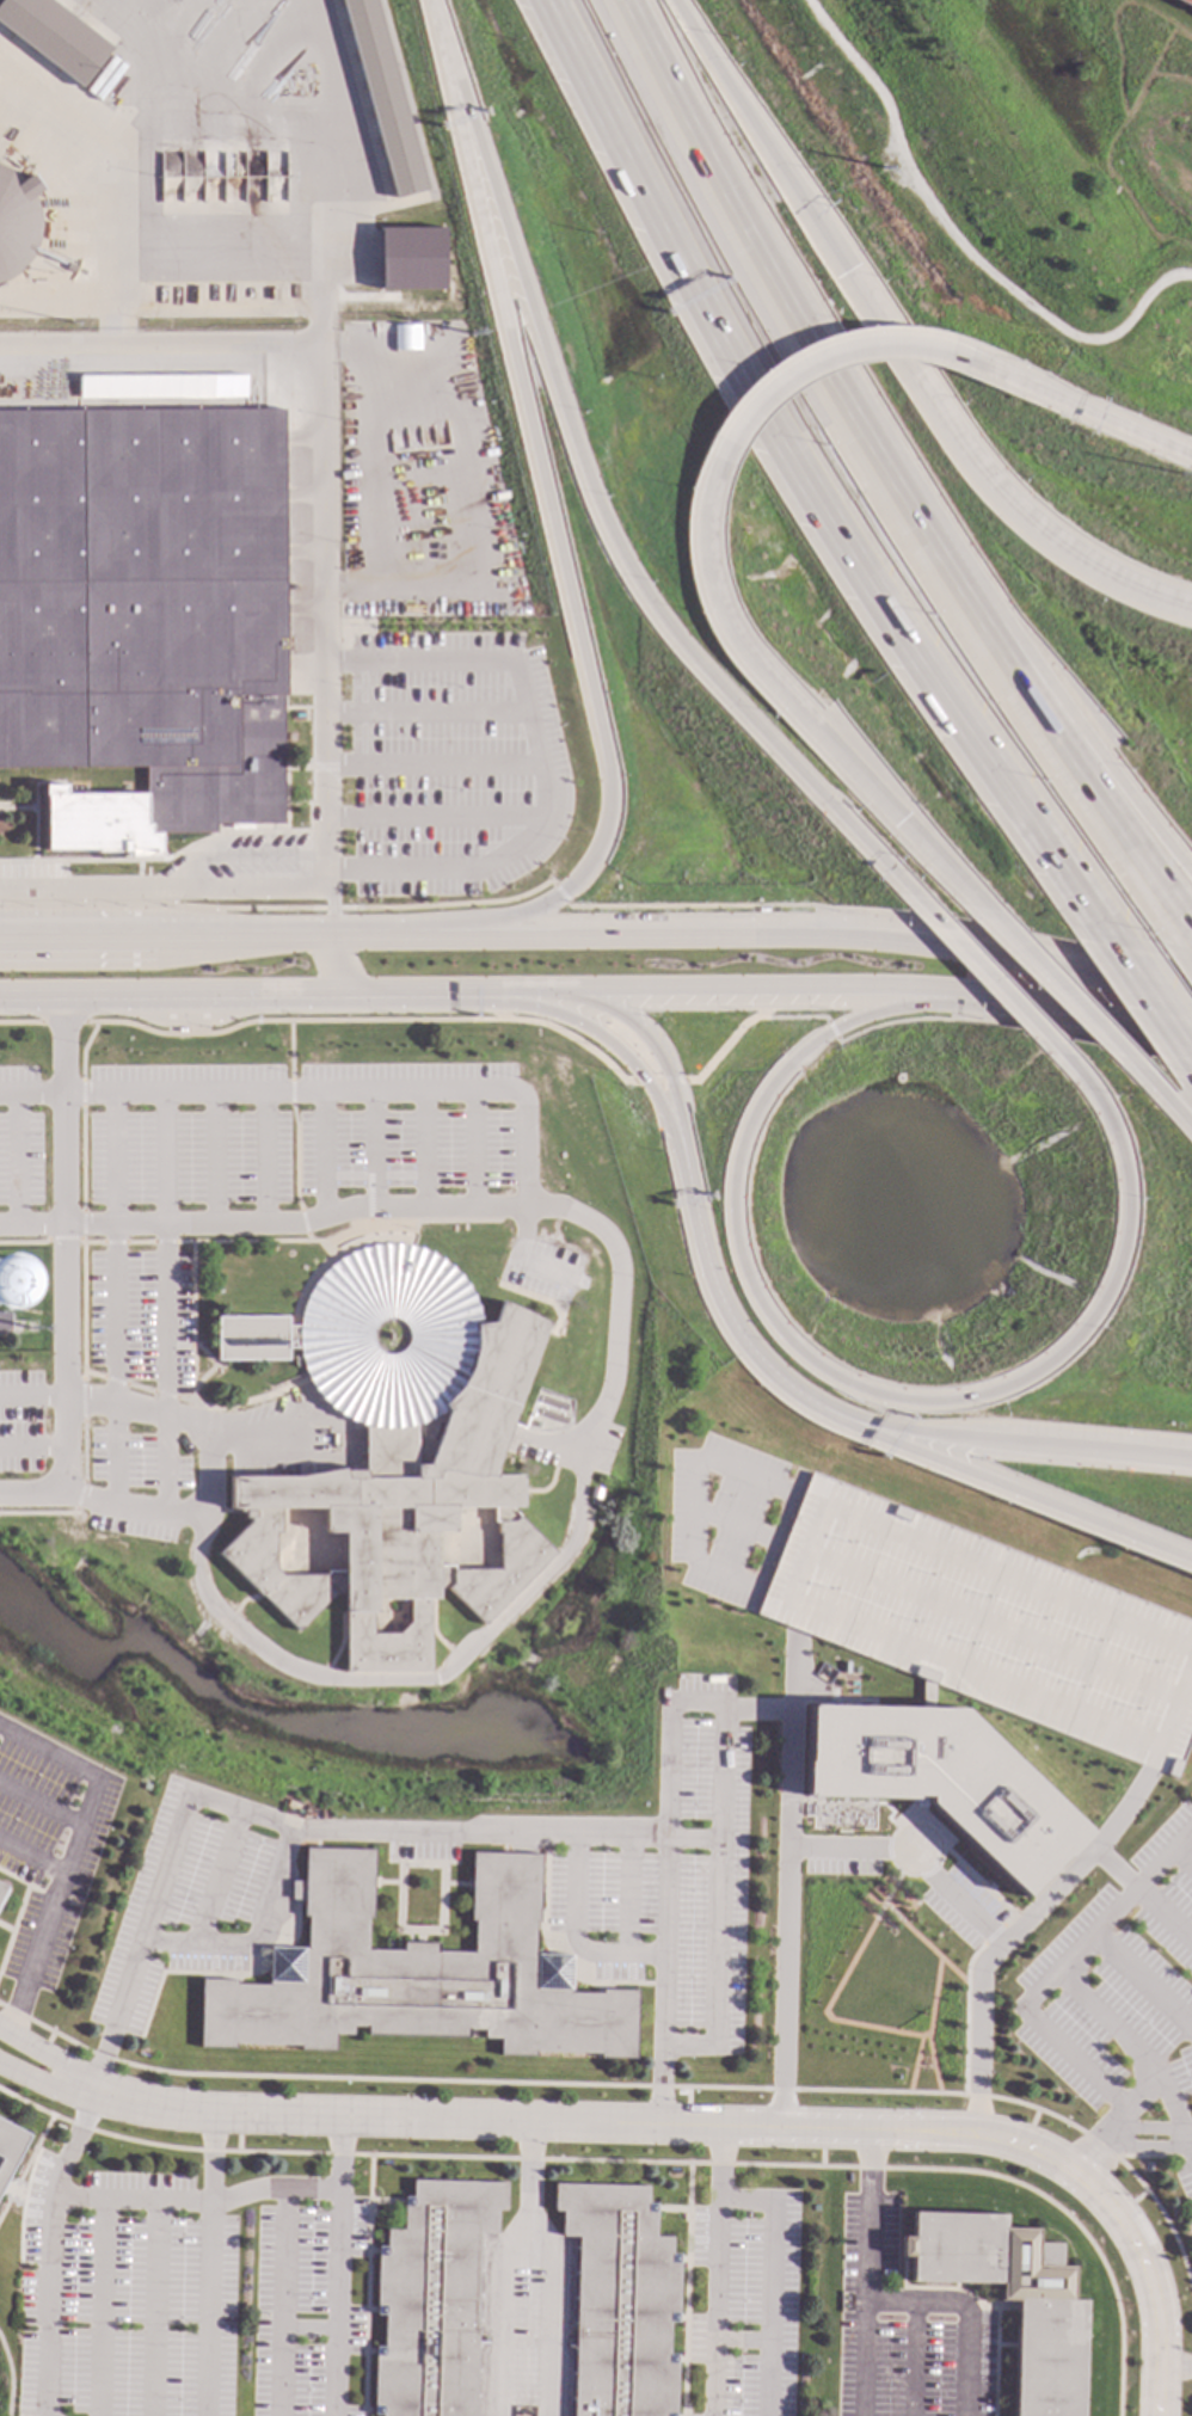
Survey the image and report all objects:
building: (1182, 4)
road: (431, 11)
building: (50, 38)
building: (379, 97)
road: (1124, 121)
power tower: (880, 168)
road: (1022, 187)
road: (1114, 191)
building: (14, 223)
silo: (14, 223)
road: (318, 227)
road: (959, 244)
building: (406, 258)
power tower: (70, 324)
power tower: (472, 334)
building: (405, 338)
road: (899, 340)
road: (160, 344)
road: (792, 345)
road: (818, 357)
road: (1069, 404)
power tower: (1174, 479)
road: (797, 487)
road: (597, 512)
road: (549, 530)
building: (145, 605)
road: (325, 605)
road: (789, 708)
road: (539, 760)
road: (1106, 781)
road: (1106, 813)
road: (330, 881)
road: (165, 890)
road: (559, 893)
road: (279, 909)
road: (880, 912)
road: (331, 914)
road: (382, 935)
road: (288, 936)
road: (123, 937)
road: (686, 937)
road: (1016, 958)
road: (337, 964)
road: (990, 979)
road: (1143, 983)
road: (764, 986)
road: (504, 991)
road: (296, 992)
road: (405, 992)
road: (184, 994)
road: (59, 996)
road: (1151, 1002)
road: (770, 1003)
road: (486, 1006)
road: (1076, 1007)
road: (792, 1018)
road: (290, 1020)
road: (1089, 1020)
road: (20, 1022)
road: (62, 1022)
road: (1010, 1027)
road: (830, 1029)
building: (179, 1031)
road: (643, 1033)
road: (595, 1034)
road: (289, 1051)
road: (633, 1082)
road: (290, 1093)
road: (346, 1093)
road: (31, 1095)
road: (1175, 1112)
parking lot: (413, 1126)
parking lot: (188, 1135)
road: (473, 1149)
road: (370, 1150)
road: (423, 1150)
road: (322, 1155)
road: (294, 1157)
road: (215, 1158)
road: (262, 1158)
road: (303, 1227)
road: (66, 1246)
road: (113, 1248)
road: (164, 1253)
water tower: (0, 1289)
road: (721, 1302)
parking lot: (142, 1318)
building: (4, 1323)
road: (834, 1377)
road: (610, 1398)
road: (150, 1409)
road: (1015, 1440)
building: (393, 1446)
parking lot: (135, 1484)
road: (1015, 1490)
road: (31, 1495)
road: (133, 1507)
parking lot: (727, 1519)
building: (983, 1625)
parking lot: (983, 1625)
road: (792, 1670)
road: (726, 1708)
building: (942, 1775)
road: (41, 1801)
road: (180, 1812)
road: (351, 1832)
road: (69, 1854)
road: (31, 1856)
road: (1079, 1856)
road: (913, 1858)
road: (1181, 1858)
road: (219, 1876)
parking lot: (649, 1880)
building: (0, 1887)
road: (725, 1912)
road: (890, 1912)
road: (1163, 1914)
road: (567, 1935)
building: (417, 1975)
road: (1142, 1981)
road: (1045, 1982)
parking lot: (1120, 1982)
park: (875, 1987)
road: (824, 2006)
road: (115, 2015)
road: (928, 2015)
road: (972, 2033)
road: (1128, 2045)
road: (49, 2058)
road: (915, 2064)
road: (44, 2086)
road: (1142, 2092)
road: (405, 2119)
road: (1120, 2128)
road: (1186, 2141)
road: (1129, 2146)
building: (7, 2148)
road: (1031, 2151)
road: (336, 2153)
parking lot: (1185, 2184)
road: (247, 2191)
road: (130, 2200)
road: (868, 2217)
road: (770, 2244)
road: (48, 2250)
road: (209, 2264)
road: (549, 2266)
road: (282, 2276)
building: (430, 2299)
building: (1010, 2299)
building: (620, 2301)
road: (334, 2303)
road: (99, 2307)
road: (154, 2309)
road: (714, 2309)
road: (500, 2311)
road: (965, 2312)
road: (864, 2359)
road: (911, 2359)
road: (1174, 2367)
road: (10, 2375)

